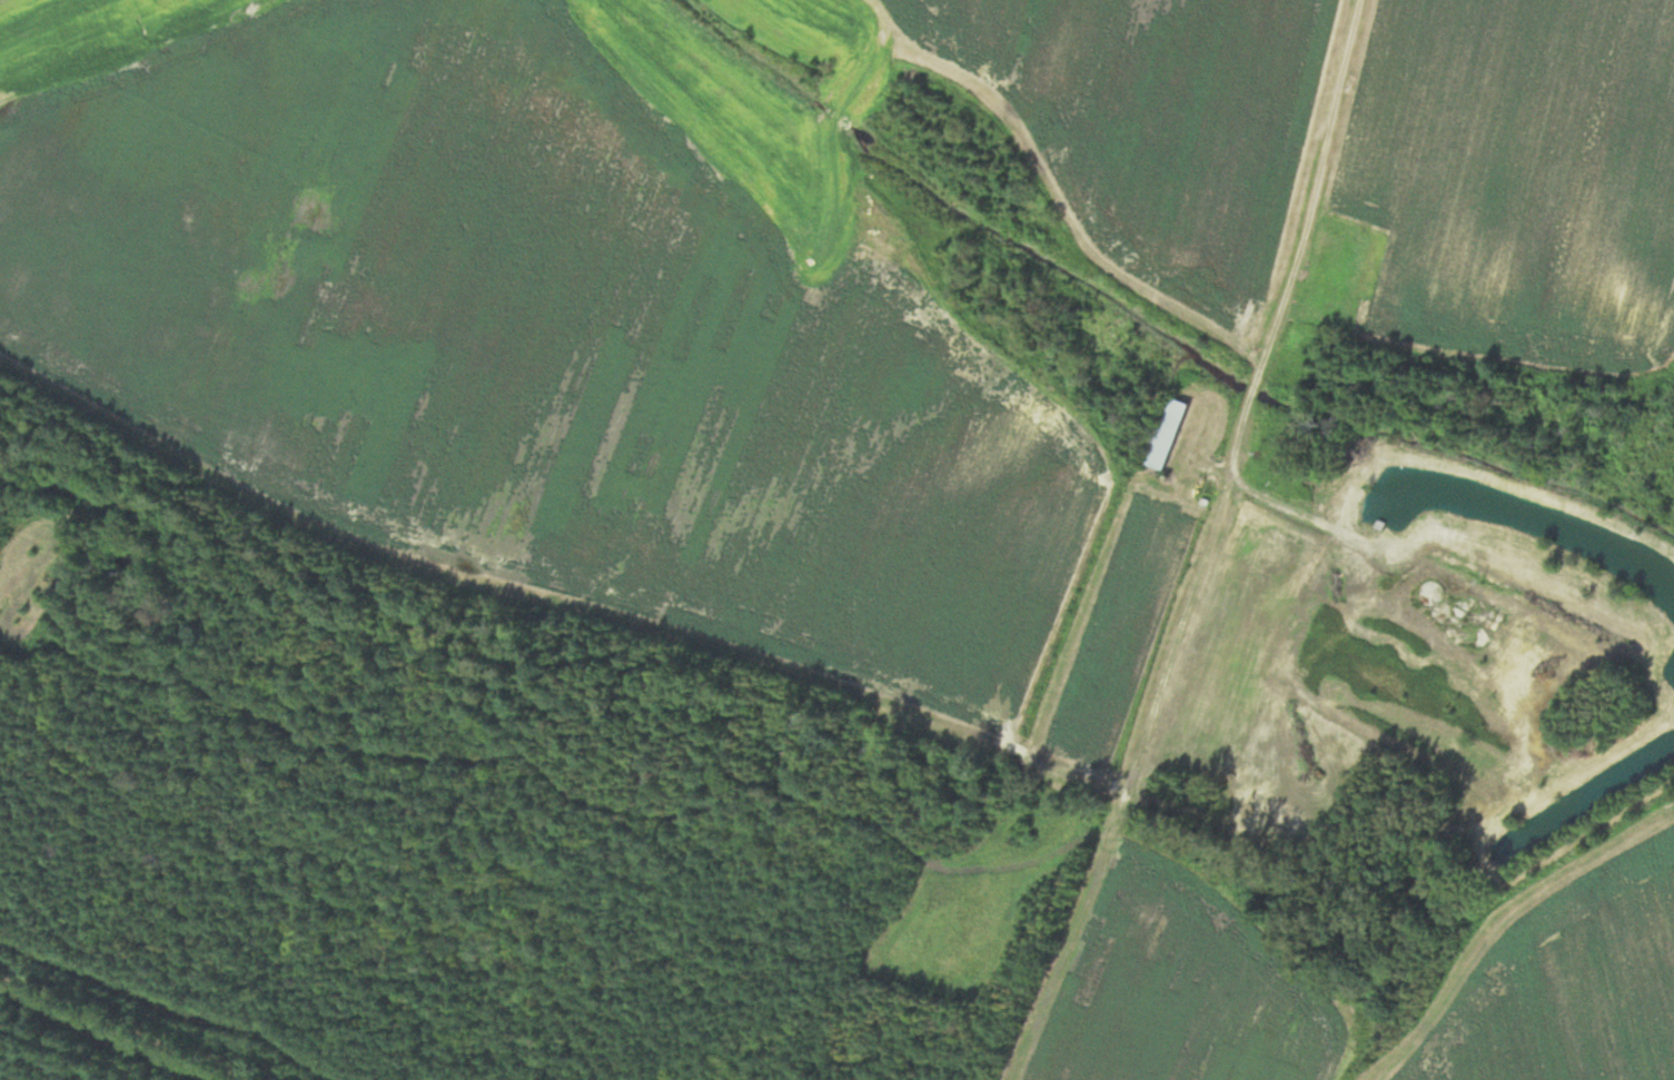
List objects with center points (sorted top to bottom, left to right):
building: (1162, 433)
building: (1377, 525)
road: (118, 1025)

